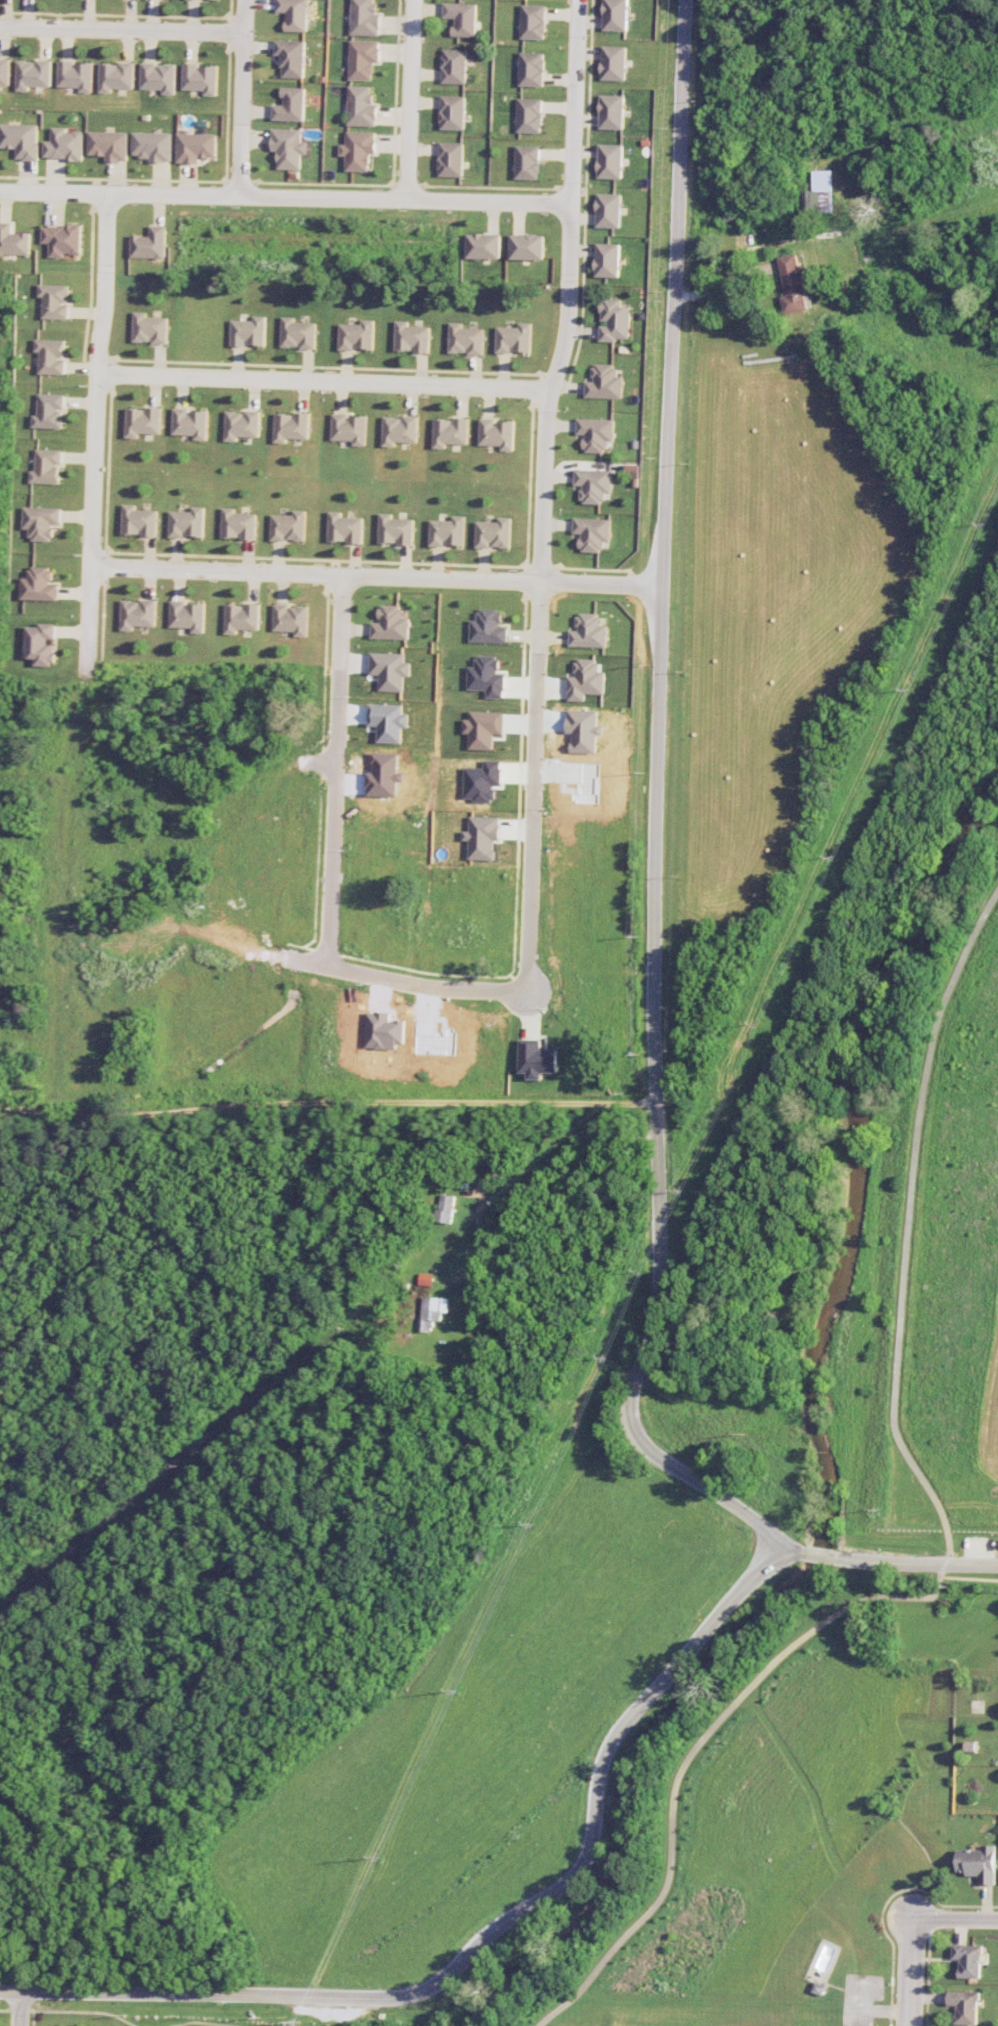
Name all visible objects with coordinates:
building: (296, 14)
building: (616, 15)
building: (463, 17)
building: (365, 18)
building: (534, 21)
road: (122, 29)
building: (292, 57)
building: (364, 58)
building: (614, 62)
building: (455, 65)
building: (532, 68)
building: (5, 71)
building: (34, 73)
building: (76, 75)
building: (117, 75)
building: (159, 76)
building: (201, 77)
road: (243, 97)
road: (413, 99)
building: (291, 104)
building: (362, 106)
building: (613, 111)
building: (453, 112)
building: (531, 115)
building: (20, 139)
building: (64, 144)
building: (109, 144)
building: (153, 145)
building: (196, 146)
building: (290, 147)
building: (359, 149)
building: (451, 159)
building: (611, 160)
building: (529, 161)
building: (817, 192)
road: (286, 196)
building: (609, 210)
building: (732, 212)
building: (62, 239)
building: (13, 240)
building: (150, 243)
building: (484, 245)
building: (528, 246)
building: (608, 259)
building: (793, 283)
road: (723, 284)
building: (55, 300)
building: (615, 320)
building: (149, 328)
building: (248, 331)
building: (297, 333)
building: (357, 335)
building: (411, 337)
building: (514, 338)
building: (466, 339)
building: (51, 355)
road: (321, 382)
building: (605, 382)
building: (49, 410)
building: (143, 420)
building: (190, 422)
building: (241, 424)
building: (290, 426)
building: (349, 428)
building: (399, 429)
building: (450, 431)
building: (497, 433)
building: (596, 433)
building: (47, 466)
building: (594, 484)
road: (543, 491)
building: (139, 520)
building: (41, 521)
building: (187, 522)
building: (238, 524)
building: (288, 526)
building: (345, 527)
building: (395, 529)
building: (448, 531)
building: (494, 532)
building: (592, 532)
road: (376, 574)
building: (39, 584)
road: (90, 609)
building: (138, 613)
building: (187, 615)
building: (241, 617)
building: (290, 618)
building: (390, 623)
building: (488, 627)
building: (588, 631)
building: (41, 643)
building: (390, 670)
building: (487, 676)
building: (585, 679)
building: (388, 721)
building: (483, 728)
road: (68, 745)
road: (212, 749)
road: (335, 766)
road: (656, 816)
building: (482, 836)
road: (309, 954)
building: (536, 1058)
road: (326, 1103)
road: (512, 1143)
building: (445, 1208)
park: (940, 1263)
building: (431, 1310)
river: (821, 1454)
road: (948, 1546)
parking lot: (975, 1546)
road: (788, 1553)
road: (817, 1553)
road: (916, 1562)
crop: (474, 1738)
building: (978, 1863)
road: (955, 1919)
road: (481, 1938)
building: (968, 1959)
road: (911, 1966)
building: (964, 2005)
road: (19, 2008)
road: (329, 2010)
road: (907, 2019)
road: (911, 2019)
power tower: (303, 2021)

